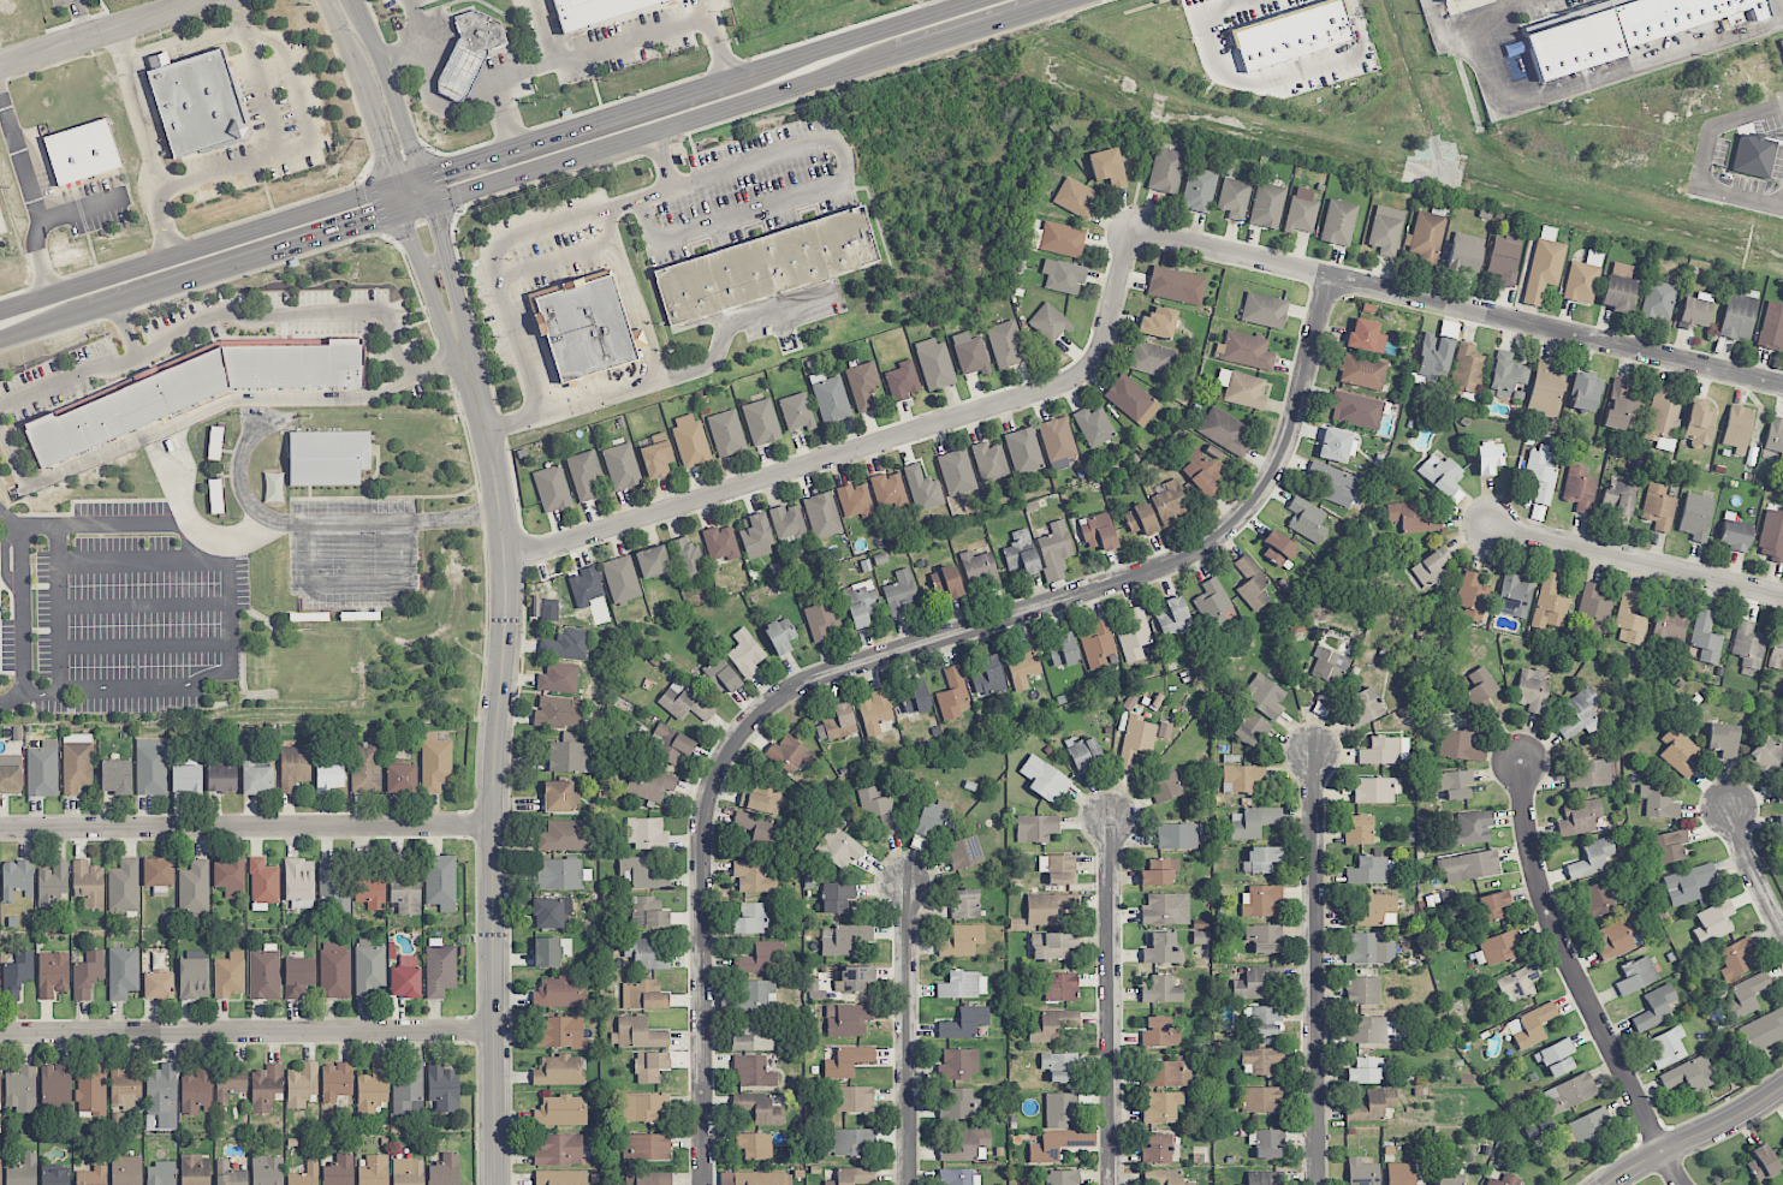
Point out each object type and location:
road: (1237, 0)
building: (1443, 0)
road: (353, 1)
parking lot: (61, 2)
road: (1284, 2)
road: (102, 5)
road: (174, 5)
street lamp: (423, 7)
road: (1778, 10)
building: (594, 11)
road: (1439, 11)
road: (1481, 11)
road: (238, 13)
road: (82, 17)
street lamp: (1075, 19)
road: (76, 22)
road: (1350, 25)
street lamp: (261, 28)
street lamp: (351, 30)
road: (843, 30)
building: (1621, 30)
building: (479, 31)
road: (245, 35)
road: (422, 35)
building: (1291, 35)
road: (210, 36)
road: (81, 37)
road: (341, 37)
street lamp: (1191, 38)
road: (630, 40)
road: (715, 40)
building: (1782, 42)
road: (120, 43)
street lamp: (985, 46)
parking lot: (1217, 46)
road: (150, 48)
road: (402, 50)
road: (154, 58)
road: (724, 67)
road: (886, 70)
street lamp: (913, 70)
building: (459, 71)
gas station: (459, 71)
road: (519, 71)
road: (458, 75)
road: (290, 76)
street lamp: (1206, 77)
road: (1598, 77)
road: (1268, 79)
road: (483, 83)
street lamp: (1331, 87)
road: (699, 88)
road: (390, 89)
street lamp: (834, 94)
street lamp: (278, 95)
road: (266, 96)
road: (747, 101)
building: (198, 102)
road: (617, 102)
road: (275, 115)
street lamp: (762, 117)
parking lot: (267, 125)
road: (144, 126)
road: (263, 129)
street lamp: (393, 129)
road: (375, 130)
street lamp: (334, 133)
road: (415, 133)
road: (510, 136)
street lamp: (684, 143)
street lamp: (4, 150)
road: (653, 150)
building: (82, 151)
traffic signals: (385, 155)
building: (1753, 155)
road: (396, 157)
road: (662, 157)
street lamp: (610, 166)
road: (258, 167)
building: (1107, 167)
road: (232, 168)
traffic signals: (448, 168)
street lamp: (267, 171)
building: (1165, 171)
road: (23, 173)
road: (90, 177)
road: (408, 181)
road: (439, 184)
road: (828, 184)
street lamp: (226, 185)
road: (55, 189)
road: (426, 189)
building: (1199, 190)
road: (75, 191)
road: (268, 197)
building: (1074, 197)
road: (398, 198)
building: (1234, 198)
street lamp: (173, 202)
parking lot: (85, 203)
road: (378, 204)
building: (1267, 206)
road: (416, 207)
road: (81, 208)
road: (283, 208)
building: (1301, 214)
street lamp: (25, 216)
road: (81, 216)
building: (1338, 222)
traffic signals: (365, 224)
road: (421, 224)
road: (162, 225)
road: (452, 226)
traffic signals: (439, 230)
building: (1385, 230)
street lamp: (100, 231)
building: (1426, 238)
building: (1062, 239)
road: (168, 244)
road: (197, 249)
road: (91, 250)
building: (1464, 252)
building: (1504, 258)
road: (434, 263)
building: (765, 266)
road: (96, 267)
road: (495, 267)
building: (1543, 269)
road: (43, 273)
road: (201, 275)
building: (1063, 275)
road: (451, 278)
building: (1582, 279)
road: (428, 286)
building: (1176, 286)
building: (1617, 293)
building: (1658, 300)
road: (1456, 305)
building: (1264, 310)
building: (1694, 312)
building: (1737, 315)
road: (216, 316)
road: (735, 321)
building: (1158, 322)
building: (1048, 323)
building: (583, 327)
building: (1772, 327)
road: (125, 329)
building: (1366, 337)
building: (1005, 344)
building: (1244, 350)
road: (652, 352)
building: (969, 353)
building: (1434, 357)
building: (1152, 359)
building: (935, 364)
road: (436, 368)
building: (1466, 370)
building: (1362, 371)
building: (1506, 374)
building: (902, 381)
building: (862, 386)
building: (1242, 388)
building: (1546, 388)
building: (194, 391)
building: (1585, 392)
building: (830, 398)
building: (1131, 400)
building: (1621, 405)
building: (1356, 410)
building: (796, 412)
building: (1660, 416)
road: (185, 417)
building: (761, 422)
building: (1699, 423)
building: (1093, 427)
building: (1737, 428)
building: (1225, 431)
building: (726, 434)
building: (690, 440)
building: (1057, 440)
building: (1775, 440)
building: (214, 443)
road: (867, 445)
building: (1337, 446)
building: (1023, 451)
building: (656, 455)
building: (328, 457)
building: (1488, 458)
building: (989, 462)
building: (622, 466)
building: (1203, 470)
building: (956, 472)
building: (583, 474)
building: (1540, 474)
building: (1443, 477)
building: (1336, 484)
building: (273, 487)
building: (552, 488)
building: (1580, 488)
building: (922, 489)
building: (888, 490)
building: (215, 496)
building: (855, 501)
building: (1169, 501)
building: (1658, 507)
building: (822, 514)
building: (1695, 516)
building: (1411, 518)
building: (1140, 519)
building: (1306, 519)
road: (356, 523)
building: (788, 523)
building: (1098, 531)
building: (1734, 534)
building: (1771, 534)
road: (201, 535)
building: (756, 537)
building: (720, 543)
building: (1277, 548)
building: (1054, 550)
building: (1021, 553)
building: (688, 560)
road: (1636, 560)
road: (142, 561)
building: (652, 561)
street lamp: (534, 566)
building: (1431, 568)
building: (979, 570)
building: (620, 579)
building: (946, 582)
building: (1250, 583)
building: (586, 586)
building: (899, 594)
building: (1472, 596)
building: (1514, 596)
building: (1550, 602)
road: (144, 603)
building: (1212, 603)
building: (861, 605)
building: (1593, 607)
road: (60, 609)
road: (24, 611)
building: (1173, 618)
building: (821, 620)
building: (1630, 620)
building: (1669, 625)
building: (1135, 635)
building: (779, 636)
building: (1706, 637)
building: (565, 644)
building: (1098, 644)
road: (144, 645)
building: (1748, 647)
building: (1063, 650)
building: (1777, 651)
building: (745, 653)
road: (895, 654)
building: (1022, 666)
building: (723, 675)
building: (987, 677)
building: (558, 678)
building: (1481, 684)
road: (148, 691)
building: (1531, 691)
building: (952, 695)
building: (915, 696)
building: (1264, 696)
building: (683, 702)
building: (1365, 705)
building: (874, 711)
building: (553, 713)
building: (1577, 714)
building: (836, 723)
building: (1249, 728)
building: (1722, 739)
building: (1135, 740)
building: (671, 744)
building: (1460, 746)
building: (1380, 751)
building: (1678, 751)
building: (789, 754)
building: (1084, 754)
building: (1764, 755)
building: (566, 757)
building: (77, 762)
building: (435, 763)
building: (150, 766)
building: (293, 767)
building: (365, 768)
road: (493, 768)
building: (42, 769)
building: (1587, 773)
building: (329, 775)
building: (115, 776)
building: (256, 778)
building: (1241, 778)
building: (186, 779)
building: (221, 779)
building: (402, 779)
building: (1044, 779)
building: (649, 784)
building: (1454, 784)
building: (1165, 786)
building: (1778, 786)
building: (1375, 790)
building: (559, 797)
building: (761, 797)
building: (1658, 803)
building: (879, 810)
building: (931, 817)
building: (1579, 817)
building: (1253, 822)
building: (1779, 823)
road: (246, 828)
building: (1035, 828)
building: (1472, 828)
building: (757, 830)
building: (1359, 830)
building: (646, 833)
building: (565, 835)
building: (1176, 836)
street lamp: (471, 844)
building: (1669, 846)
building: (838, 847)
building: (964, 852)
building: (1591, 858)
building: (1261, 859)
building: (1469, 865)
building: (1058, 869)
road: (1751, 869)
building: (1368, 870)
building: (158, 871)
building: (1158, 871)
building: (228, 874)
building: (642, 874)
building: (559, 875)
building: (753, 876)
building: (17, 880)
building: (440, 882)
building: (52, 883)
building: (88, 883)
building: (299, 883)
building: (1688, 883)
building: (262, 885)
building: (124, 886)
building: (332, 888)
building: (370, 889)
building: (195, 891)
building: (405, 895)
building: (836, 897)
building: (1261, 900)
building: (1595, 900)
building: (967, 904)
building: (1492, 906)
building: (1048, 907)
building: (1165, 909)
building: (1371, 911)
building: (551, 912)
building: (648, 912)
building: (749, 919)
building: (1713, 922)
building: (1264, 937)
building: (843, 939)
building: (1616, 939)
building: (961, 941)
building: (1052, 946)
building: (1499, 947)
building: (1161, 949)
building: (1369, 949)
building: (547, 952)
building: (646, 953)
building: (760, 958)
building: (1736, 958)
road: (1314, 967)
building: (369, 969)
building: (440, 969)
building: (334, 970)
building: (123, 972)
building: (88, 973)
building: (265, 973)
building: (17, 975)
building: (53, 975)
building: (1636, 975)
building: (228, 977)
building: (298, 977)
building: (405, 977)
building: (194, 978)
building: (854, 979)
road: (1577, 979)
building: (1256, 982)
building: (1517, 983)
building: (158, 985)
building: (963, 985)
building: (1060, 987)
building: (1160, 989)
building: (1362, 990)
building: (559, 993)
building: (644, 995)
building: (756, 995)
building: (1746, 995)
road: (1112, 1000)
building: (1654, 1007)
building: (848, 1020)
building: (1264, 1020)
building: (964, 1023)
building: (1052, 1025)
building: (1531, 1026)
building: (1374, 1030)
building: (1763, 1031)
road: (246, 1032)
road: (908, 1032)
building: (1159, 1032)
building: (560, 1034)
building: (638, 1034)
building: (753, 1036)
building: (1666, 1047)
street lamp: (474, 1048)
building: (1557, 1058)
building: (1260, 1060)
building: (848, 1061)
building: (958, 1064)
building: (650, 1066)
building: (1059, 1066)
building: (558, 1071)
building: (1363, 1071)
building: (754, 1072)
building: (1166, 1073)
building: (1690, 1074)
building: (230, 1080)
building: (335, 1082)
building: (302, 1085)
building: (55, 1086)
building: (125, 1086)
building: (442, 1086)
building: (265, 1088)
building: (373, 1088)
building: (20, 1089)
building: (91, 1090)
building: (196, 1090)
building: (409, 1091)
building: (1570, 1091)
building: (162, 1095)
building: (852, 1098)
building: (1261, 1100)
building: (0, 1102)
building: (962, 1103)
building: (1373, 1106)
building: (1161, 1107)
building: (644, 1108)
building: (759, 1108)
building: (1060, 1109)
building: (560, 1112)
street lamp: (1666, 1125)
building: (1588, 1126)
road: (1693, 1135)
building: (851, 1142)
building: (1268, 1143)
building: (1059, 1144)
building: (755, 1145)
building: (646, 1147)
building: (967, 1147)
building: (1155, 1149)
building: (559, 1151)
building: (1761, 1163)
building: (126, 1169)
building: (195, 1169)
building: (0, 1171)
building: (267, 1171)
building: (339, 1171)
building: (373, 1171)
building: (445, 1171)
building: (22, 1172)
building: (408, 1172)
building: (1362, 1172)
building: (161, 1173)
building: (228, 1174)
building: (1399, 1174)
building: (304, 1175)
building: (93, 1177)
building: (852, 1177)
building: (957, 1177)
building: (54, 1178)
building: (559, 1178)
building: (648, 1178)
building: (762, 1178)
building: (1062, 1178)
building: (1163, 1178)
building: (1260, 1178)
building: (1504, 1180)

